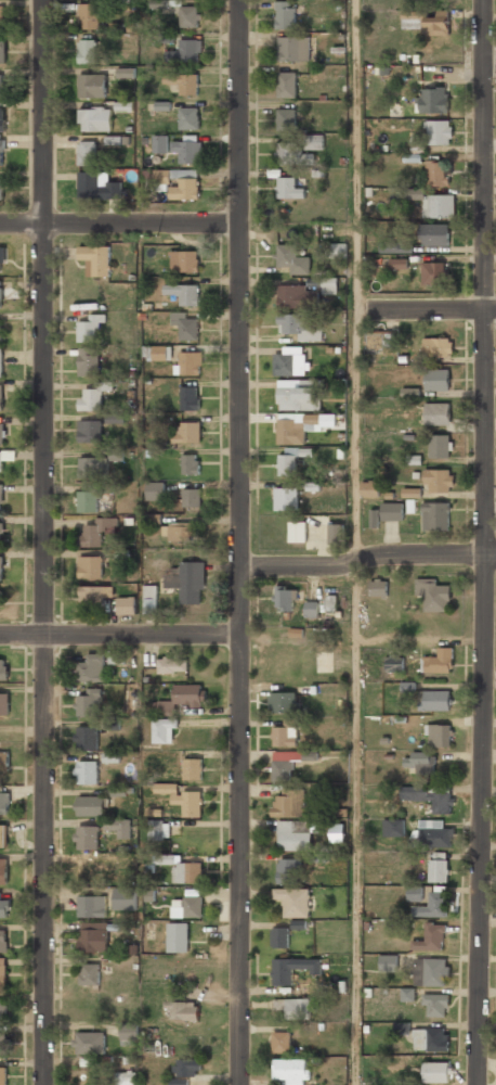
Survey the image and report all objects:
building: (285, 14)
building: (188, 15)
building: (89, 16)
building: (1, 18)
building: (428, 20)
building: (293, 48)
building: (185, 50)
building: (2, 51)
building: (87, 51)
road: (490, 65)
building: (188, 84)
building: (287, 84)
building: (1, 86)
building: (91, 86)
building: (433, 99)
building: (188, 117)
building: (1, 118)
building: (286, 118)
building: (95, 119)
building: (439, 131)
building: (315, 141)
building: (160, 144)
building: (187, 151)
building: (1, 152)
building: (289, 152)
building: (86, 153)
building: (438, 171)
building: (97, 184)
building: (185, 186)
building: (1, 187)
building: (289, 187)
building: (438, 204)
road: (120, 224)
building: (434, 234)
building: (395, 246)
building: (338, 251)
building: (292, 257)
building: (1, 259)
building: (96, 259)
building: (184, 259)
building: (399, 263)
building: (434, 272)
road: (354, 281)
building: (329, 285)
building: (183, 292)
building: (1, 294)
building: (296, 295)
road: (425, 309)
building: (300, 324)
building: (185, 325)
building: (1, 329)
building: (90, 329)
building: (380, 341)
building: (438, 345)
building: (157, 353)
building: (89, 360)
building: (1, 361)
building: (190, 362)
building: (290, 362)
building: (436, 379)
building: (92, 395)
building: (1, 397)
building: (190, 397)
building: (298, 397)
building: (436, 412)
building: (115, 418)
building: (301, 426)
building: (90, 430)
building: (190, 431)
building: (2, 433)
building: (440, 445)
building: (116, 454)
building: (290, 459)
building: (190, 462)
building: (0, 464)
building: (93, 467)
building: (438, 480)
building: (370, 488)
building: (154, 489)
building: (412, 493)
building: (191, 496)
building: (1, 497)
building: (285, 497)
building: (87, 501)
building: (392, 511)
building: (435, 515)
building: (375, 518)
building: (180, 531)
building: (298, 531)
building: (96, 532)
building: (336, 533)
building: (0, 535)
road: (42, 542)
road: (240, 542)
road: (485, 542)
road: (367, 559)
building: (91, 567)
building: (1, 569)
building: (188, 582)
building: (377, 587)
building: (433, 592)
building: (91, 593)
building: (286, 597)
building: (149, 599)
building: (330, 600)
building: (127, 604)
building: (312, 609)
road: (119, 635)
building: (439, 660)
building: (172, 664)
building: (394, 664)
building: (4, 667)
building: (90, 667)
building: (180, 695)
building: (435, 699)
building: (283, 702)
building: (4, 703)
building: (88, 703)
building: (112, 724)
building: (164, 729)
building: (440, 733)
building: (285, 735)
building: (86, 737)
building: (112, 757)
building: (4, 761)
building: (419, 761)
building: (284, 765)
building: (193, 768)
building: (87, 770)
building: (119, 791)
building: (429, 795)
building: (185, 801)
building: (4, 803)
building: (289, 803)
building: (91, 805)
road: (355, 824)
building: (119, 826)
building: (393, 828)
building: (157, 829)
building: (295, 833)
building: (434, 833)
building: (2, 835)
building: (87, 837)
building: (162, 858)
building: (438, 866)
building: (88, 869)
building: (289, 869)
building: (3, 870)
building: (187, 872)
building: (414, 893)
building: (125, 898)
building: (293, 899)
building: (2, 904)
building: (187, 904)
building: (434, 904)
building: (92, 905)
building: (279, 935)
building: (92, 936)
building: (177, 936)
building: (432, 936)
building: (3, 940)
building: (389, 961)
building: (292, 967)
building: (431, 970)
building: (90, 973)
building: (2, 974)
building: (407, 994)
building: (435, 1004)
building: (3, 1008)
building: (183, 1009)
building: (299, 1009)
building: (129, 1034)
building: (431, 1037)
building: (282, 1041)
building: (89, 1042)
building: (2, 1043)
building: (186, 1067)
building: (290, 1070)
building: (436, 1071)
building: (2, 1075)
building: (128, 1078)

